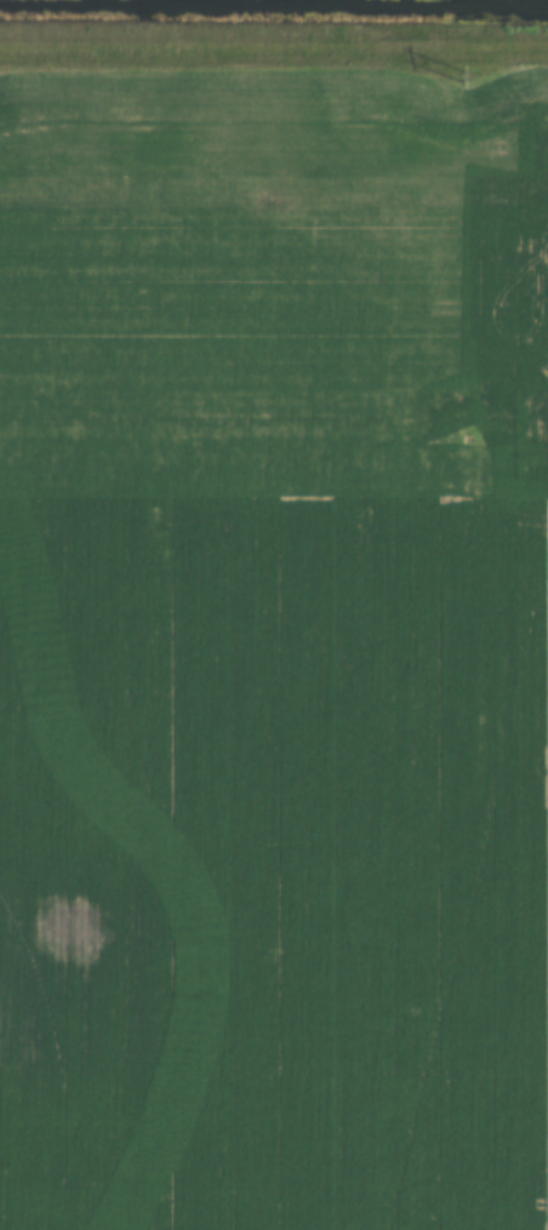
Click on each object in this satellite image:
power tower: (373, 40)

